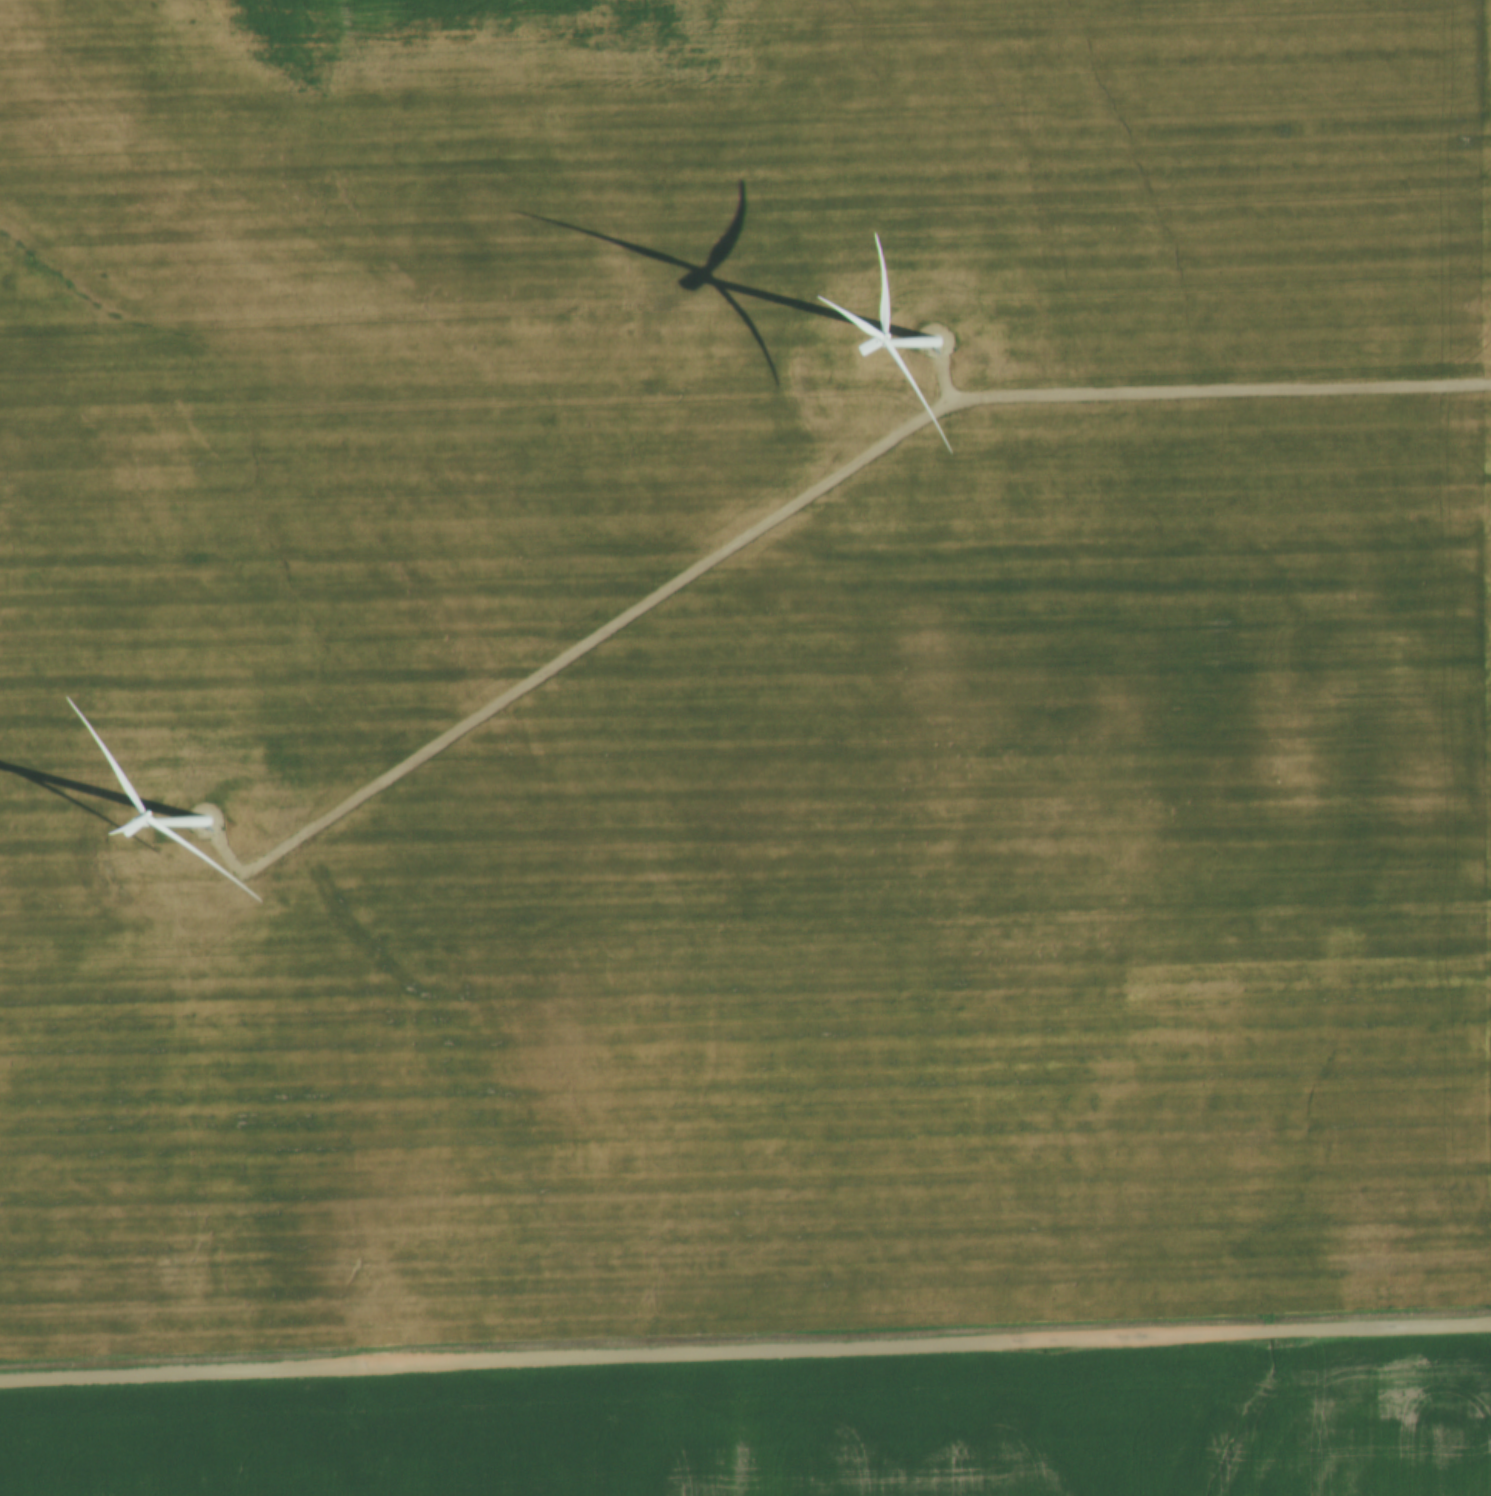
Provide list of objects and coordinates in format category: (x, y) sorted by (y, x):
wind turbine: (935, 347)
wind turbine: (210, 815)
road: (745, 1350)

